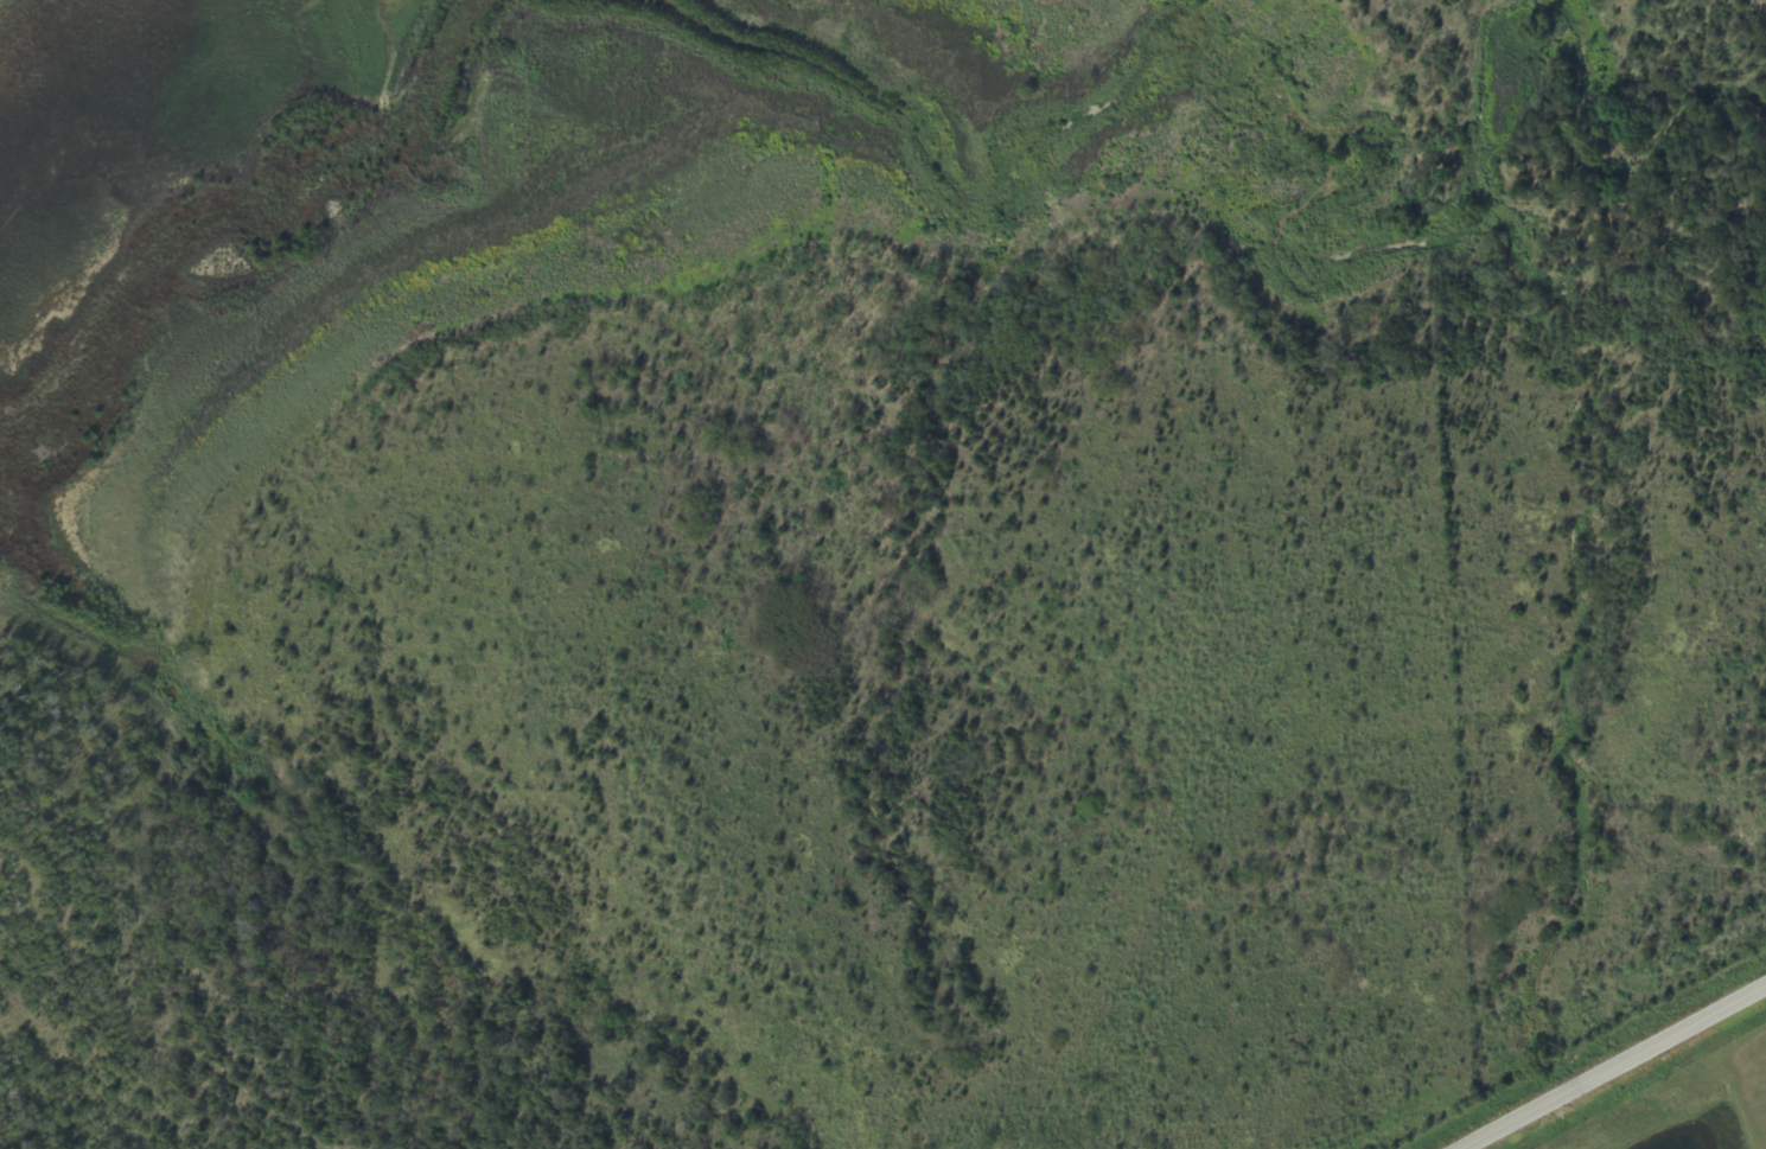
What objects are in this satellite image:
road: (1618, 1070)

